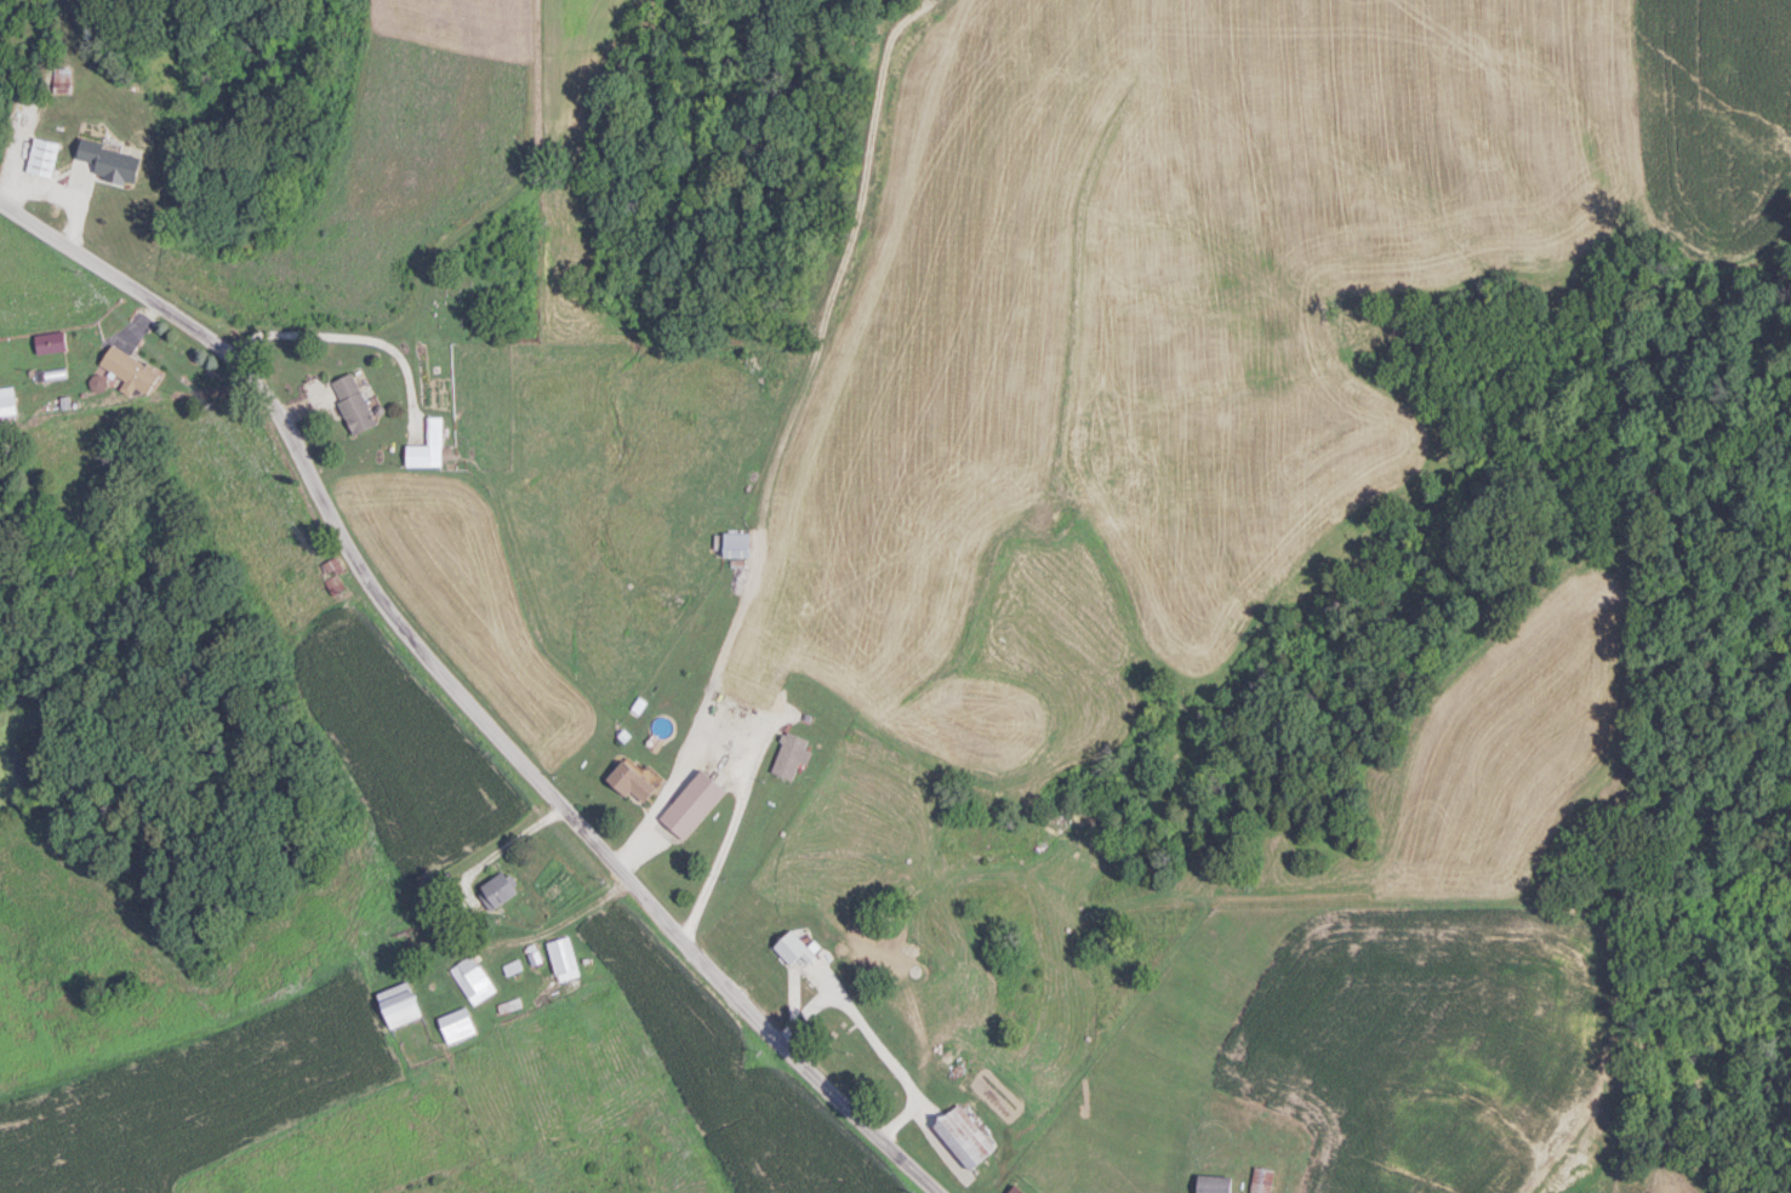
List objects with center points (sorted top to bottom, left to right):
building: (62, 79)
building: (42, 156)
building: (98, 187)
building: (50, 341)
road: (359, 341)
building: (130, 367)
building: (7, 399)
building: (352, 401)
building: (427, 445)
building: (736, 543)
building: (333, 582)
road: (463, 690)
building: (791, 754)
building: (631, 780)
building: (692, 803)
building: (497, 889)
building: (794, 947)
building: (563, 957)
building: (472, 978)
building: (400, 1003)
building: (457, 1023)
road: (871, 1035)
building: (963, 1135)
building: (1261, 1180)
building: (1213, 1183)
building: (1016, 1188)

